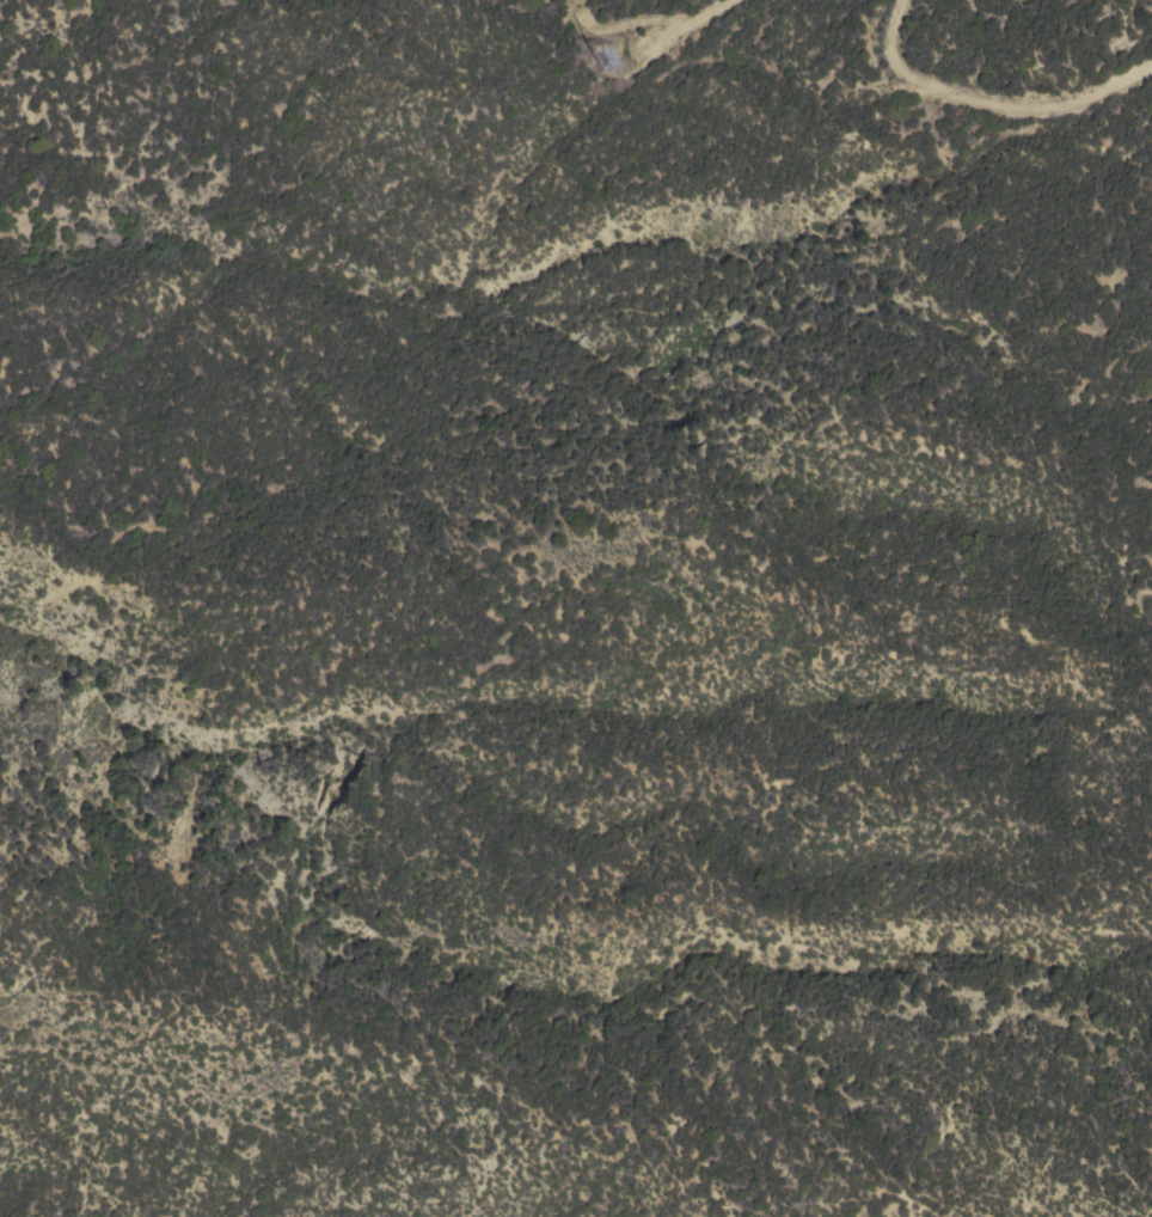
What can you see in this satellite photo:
power tower: (608, 49)

